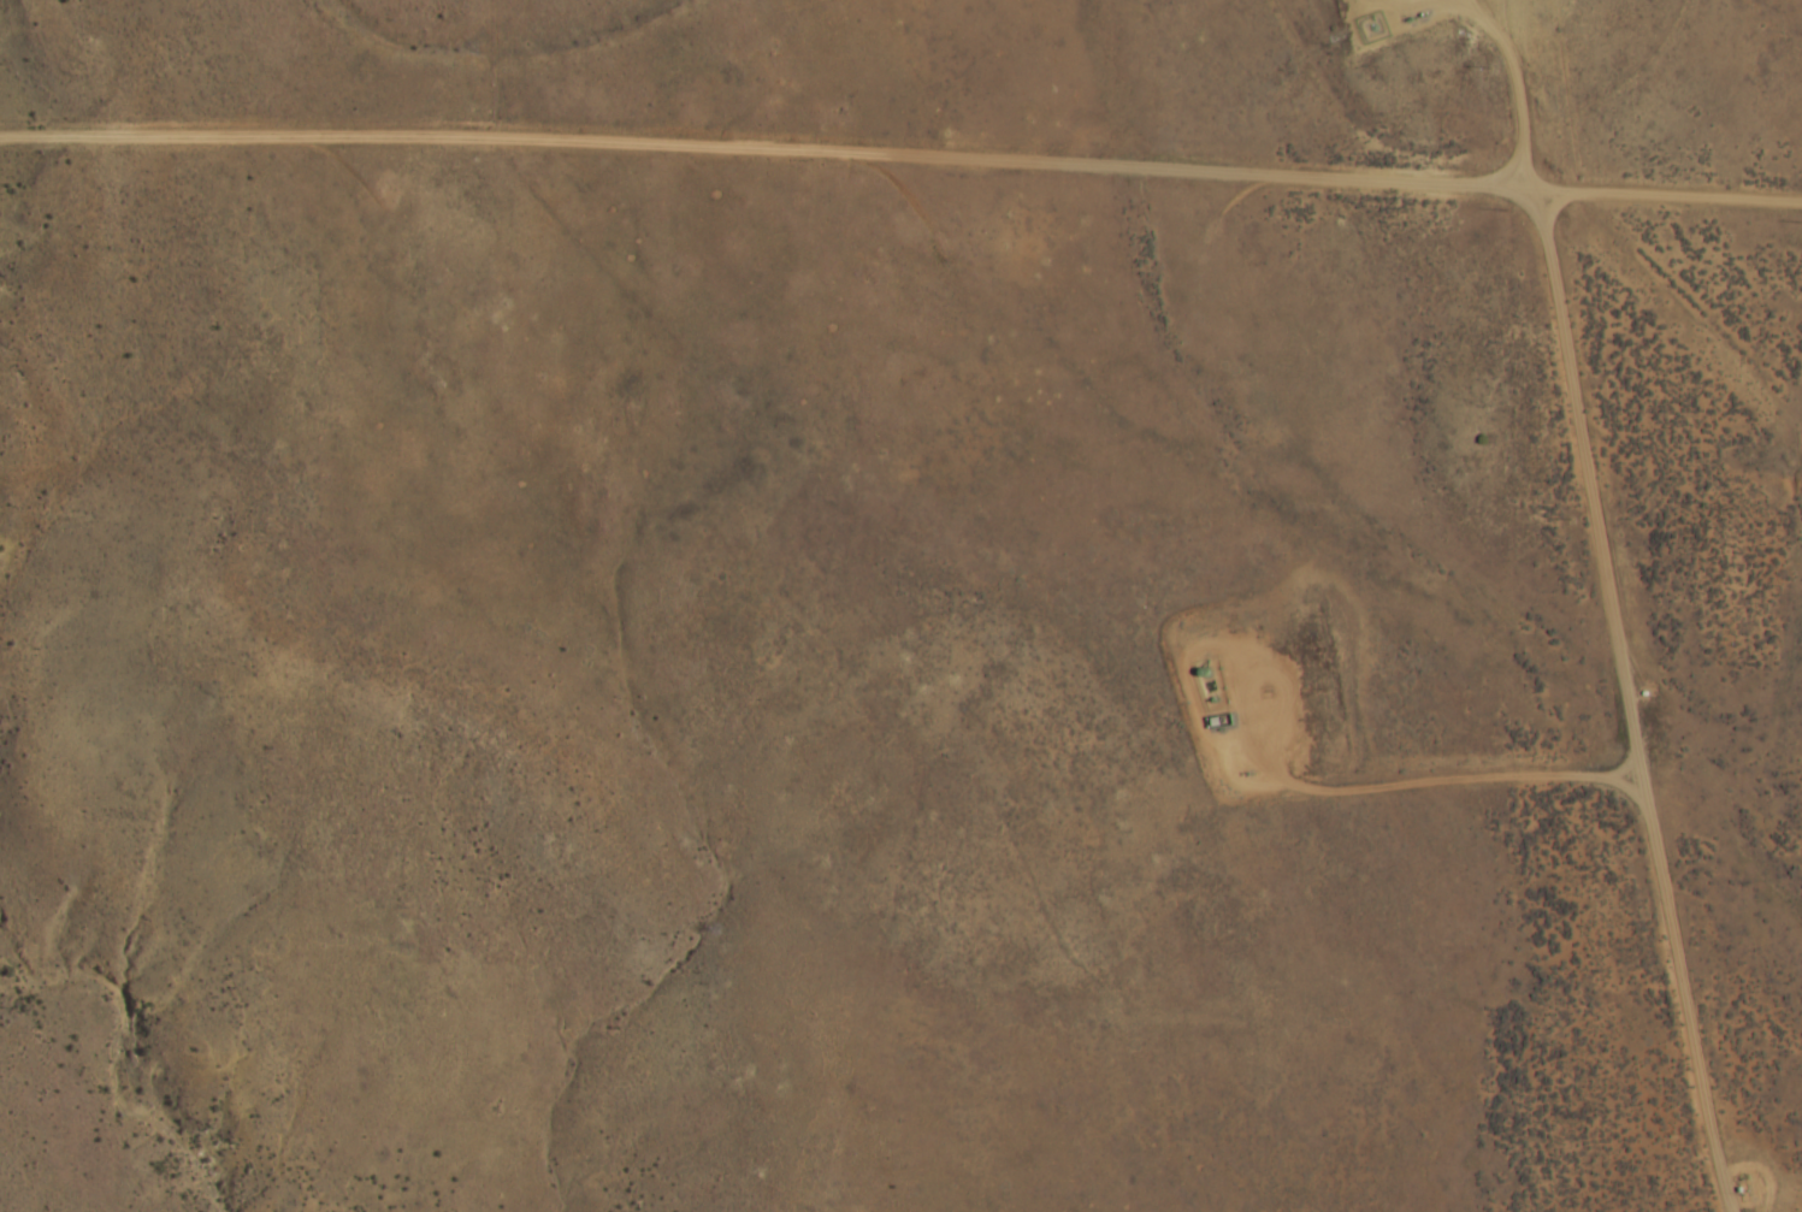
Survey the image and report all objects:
road: (908, 171)
road: (1531, 608)

